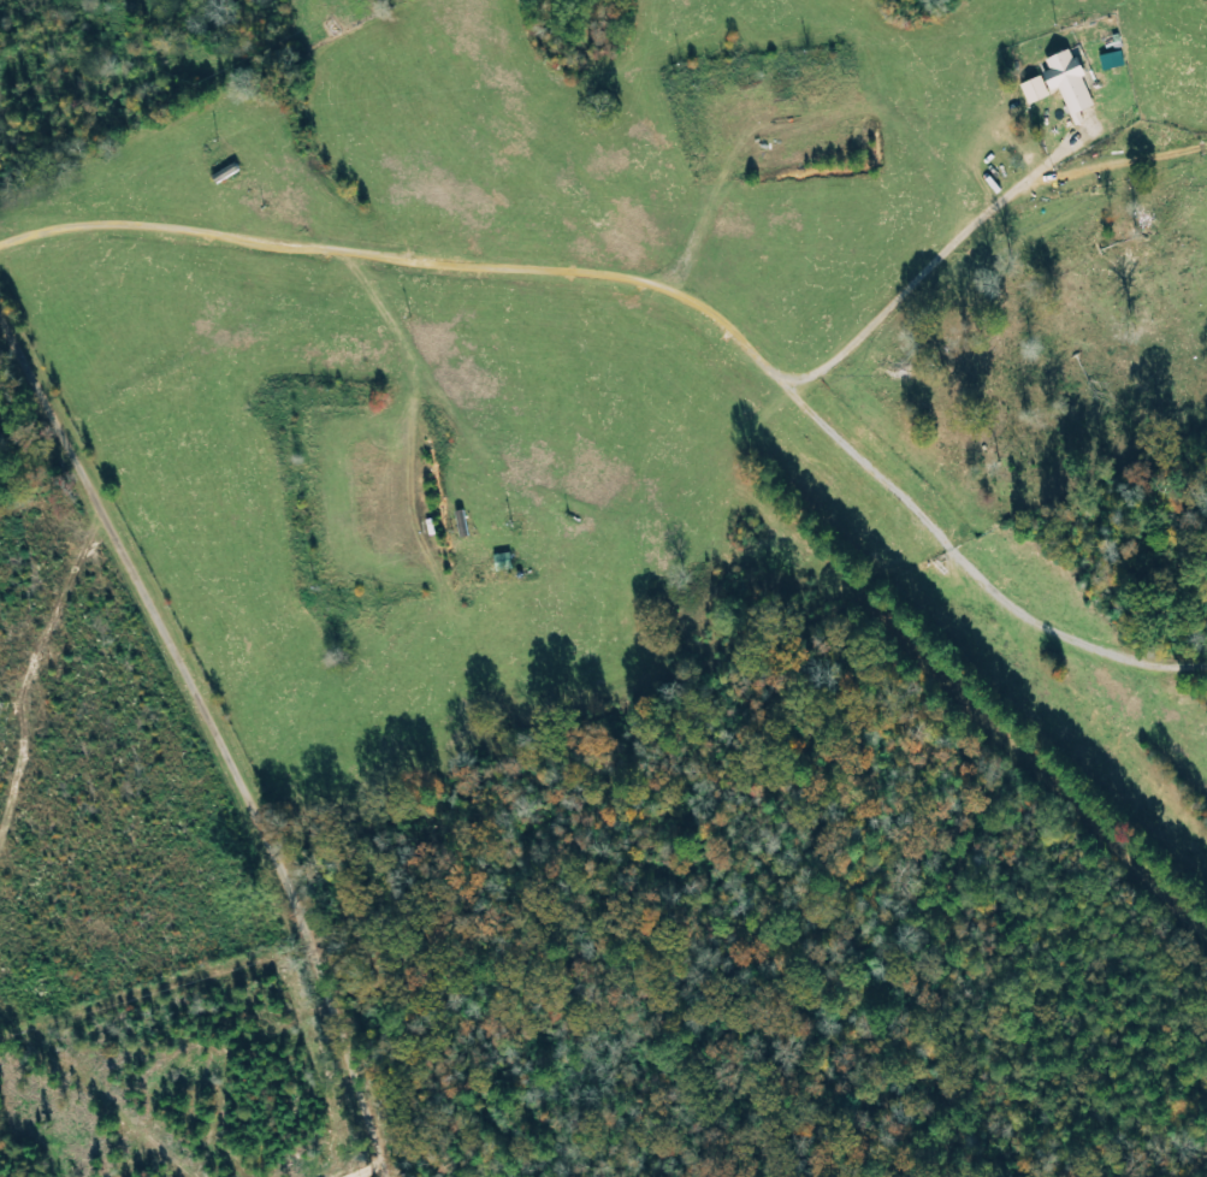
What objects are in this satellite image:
building: (1066, 85)
road: (607, 274)
road: (217, 734)
road: (368, 1171)

